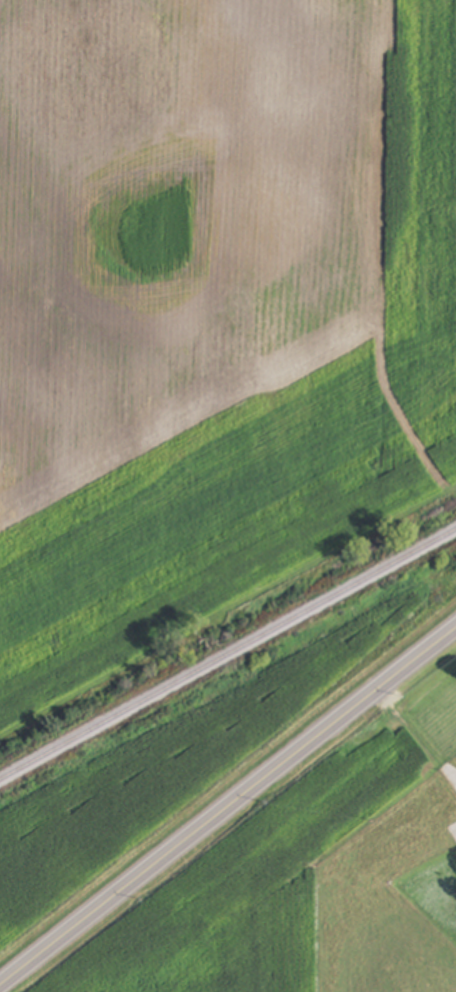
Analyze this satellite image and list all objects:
railway: (228, 654)
road: (228, 805)

